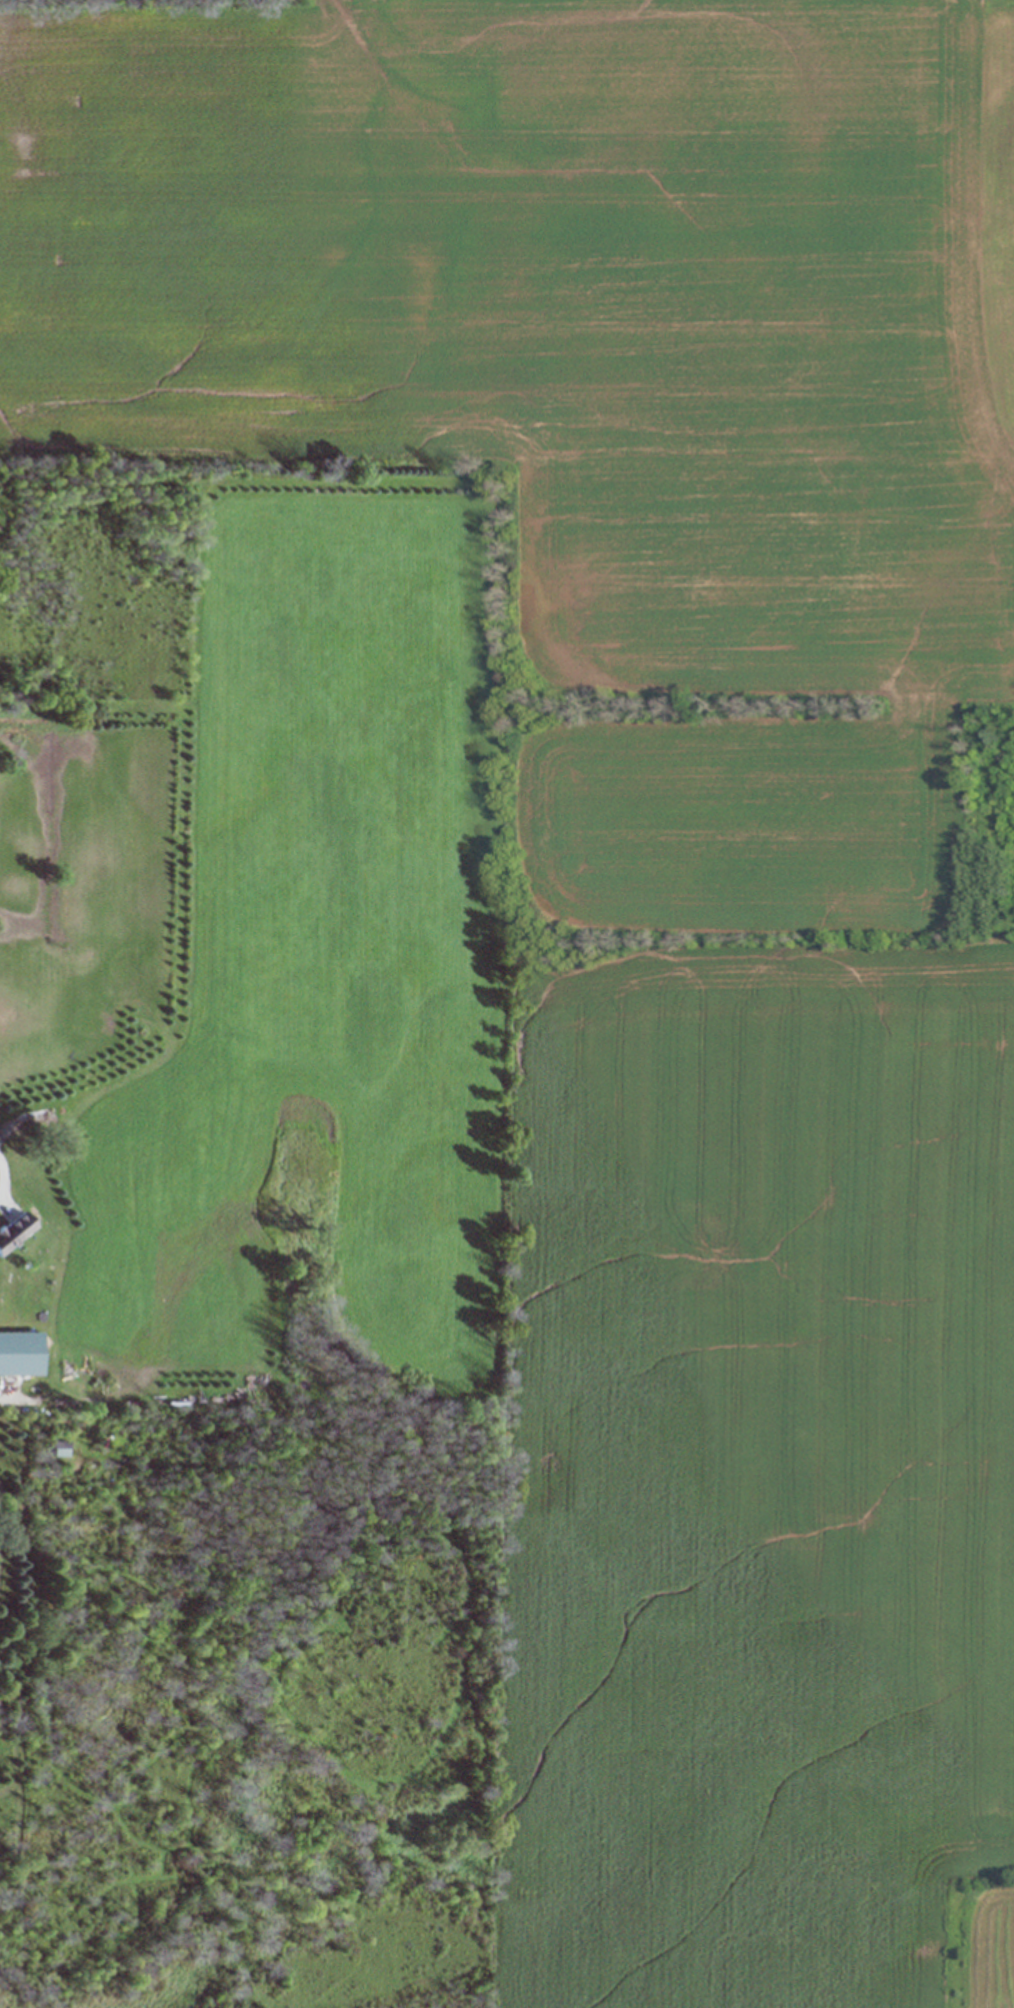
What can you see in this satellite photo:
building: (13, 1229)
building: (18, 1353)
building: (58, 1448)

